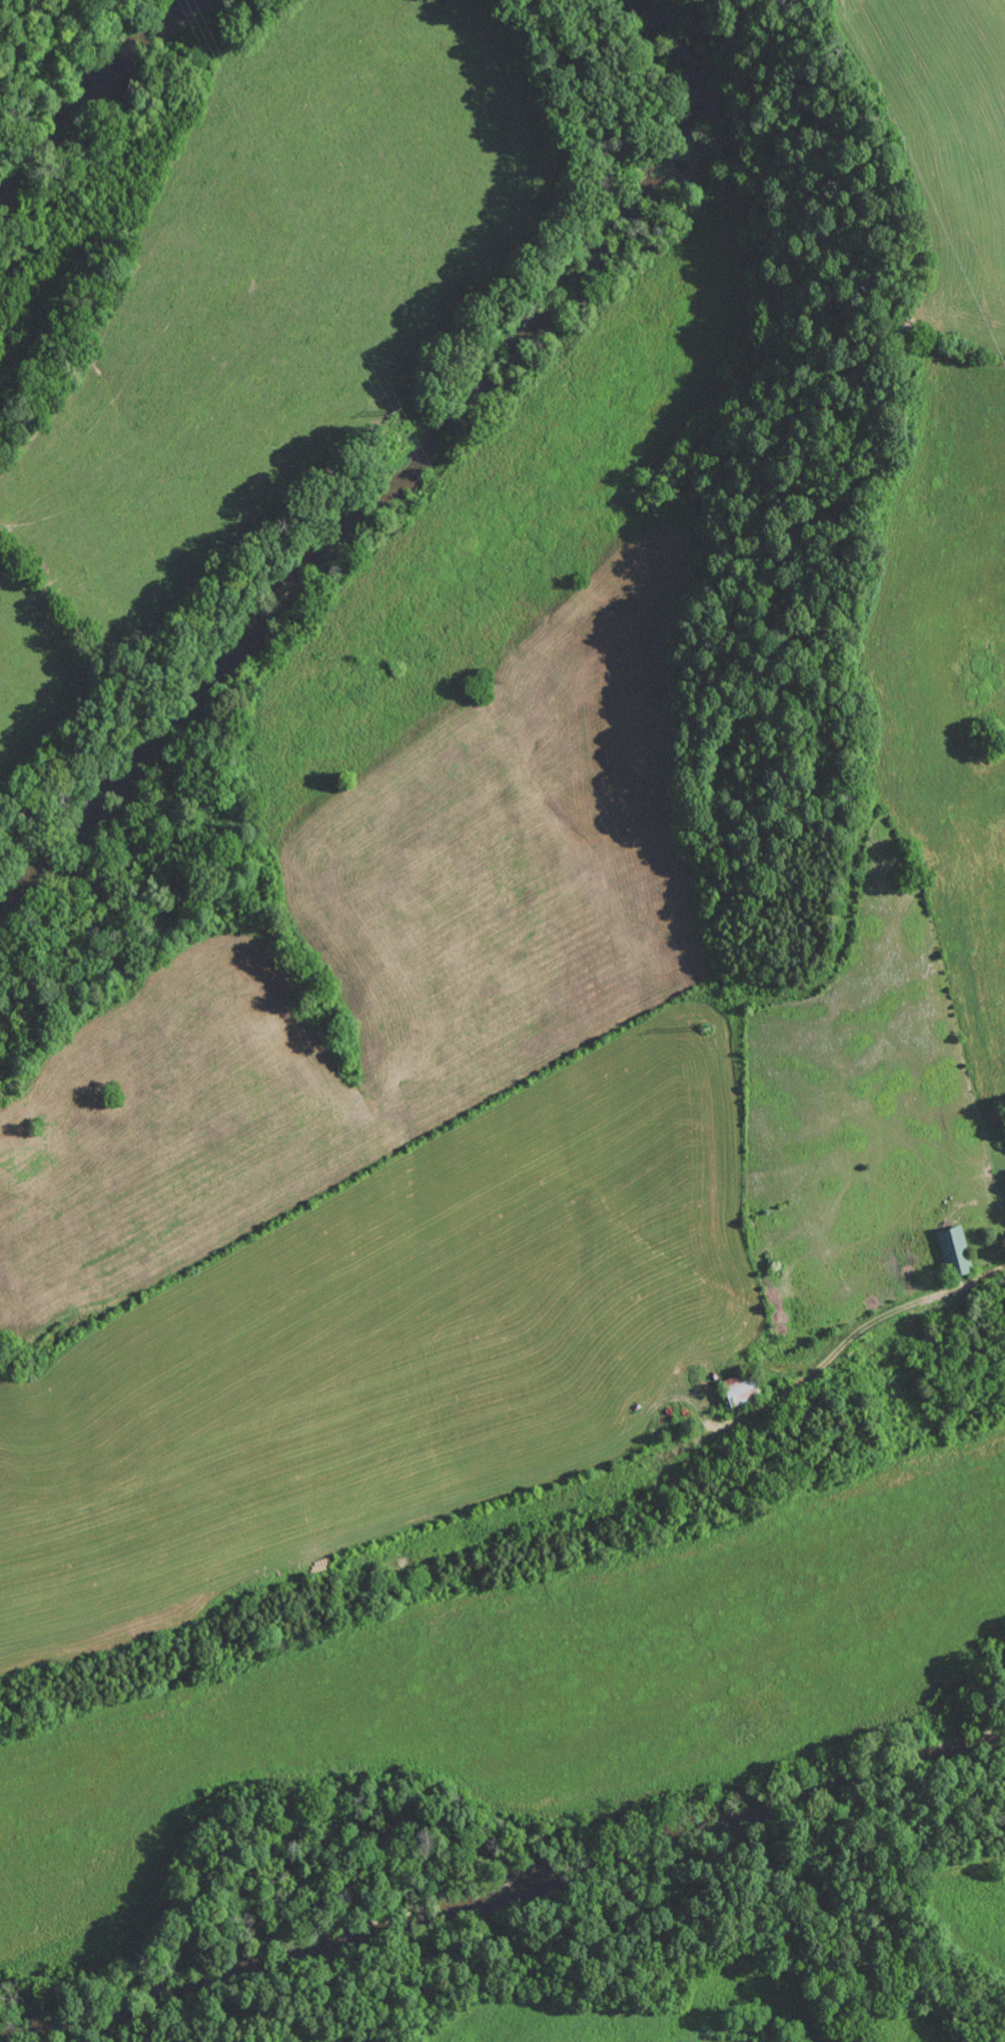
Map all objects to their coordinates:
building: (956, 1251)
building: (743, 1392)

